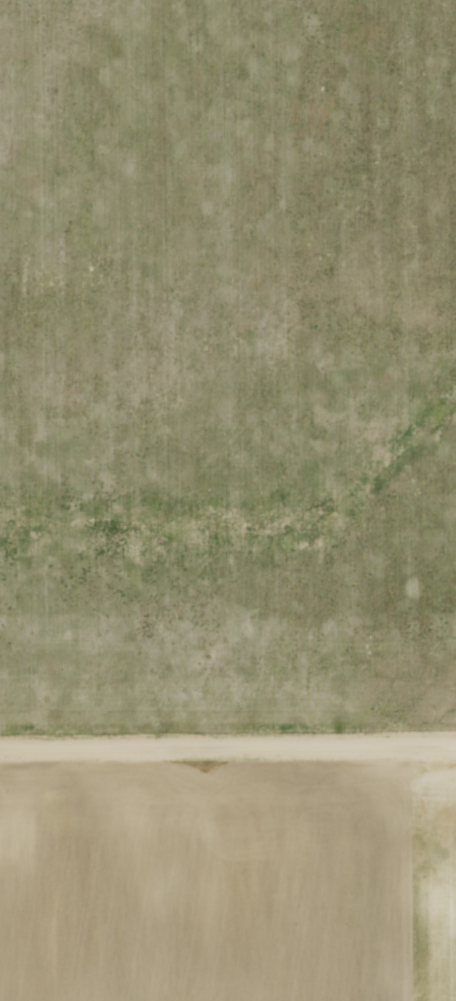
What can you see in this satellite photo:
road: (227, 746)

